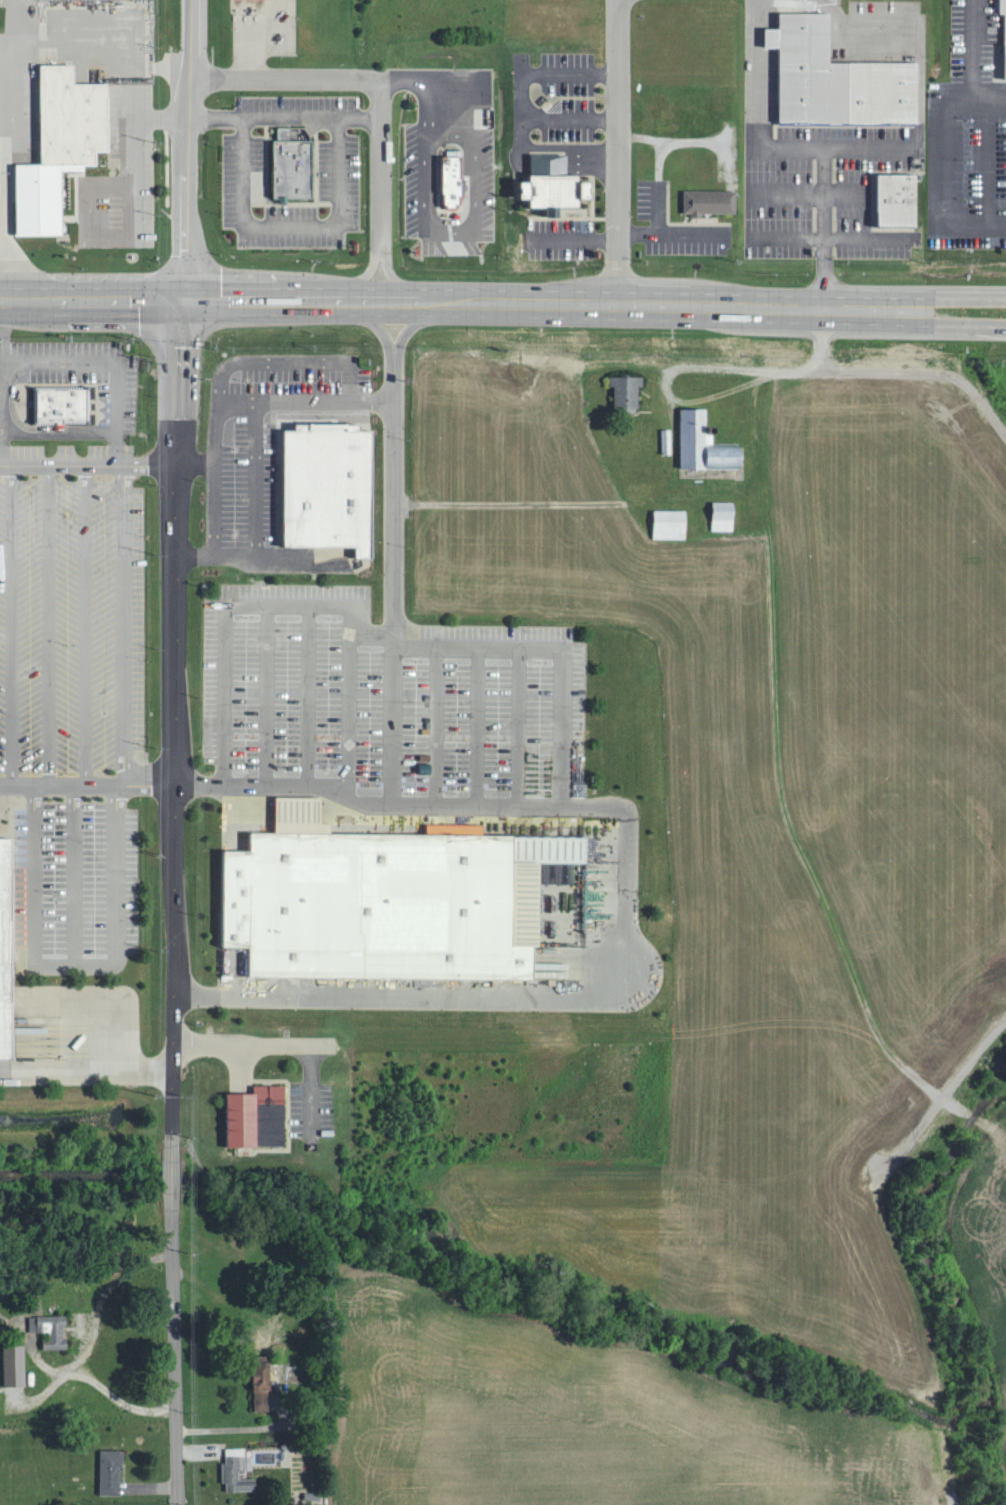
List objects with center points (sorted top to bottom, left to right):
building: (1003, 6)
building: (838, 77)
road: (379, 95)
building: (61, 145)
road: (620, 151)
building: (293, 163)
building: (453, 179)
building: (553, 183)
building: (898, 199)
building: (710, 201)
road: (936, 298)
traffic signals: (183, 302)
road: (434, 302)
road: (935, 326)
road: (819, 353)
road: (719, 363)
building: (628, 391)
building: (59, 397)
parking lot: (262, 429)
building: (705, 442)
road: (86, 462)
building: (326, 478)
building: (108, 498)
building: (724, 515)
building: (671, 523)
road: (7, 623)
road: (44, 623)
road: (80, 623)
road: (120, 623)
parking lot: (386, 692)
parking lot: (71, 697)
road: (170, 751)
road: (314, 784)
road: (70, 870)
building: (369, 894)
building: (6, 938)
road: (70, 956)
road: (498, 999)
road: (253, 1045)
road: (87, 1077)
building: (257, 1117)
building: (51, 1330)
building: (15, 1365)
building: (262, 1385)
building: (237, 1470)
building: (112, 1472)

